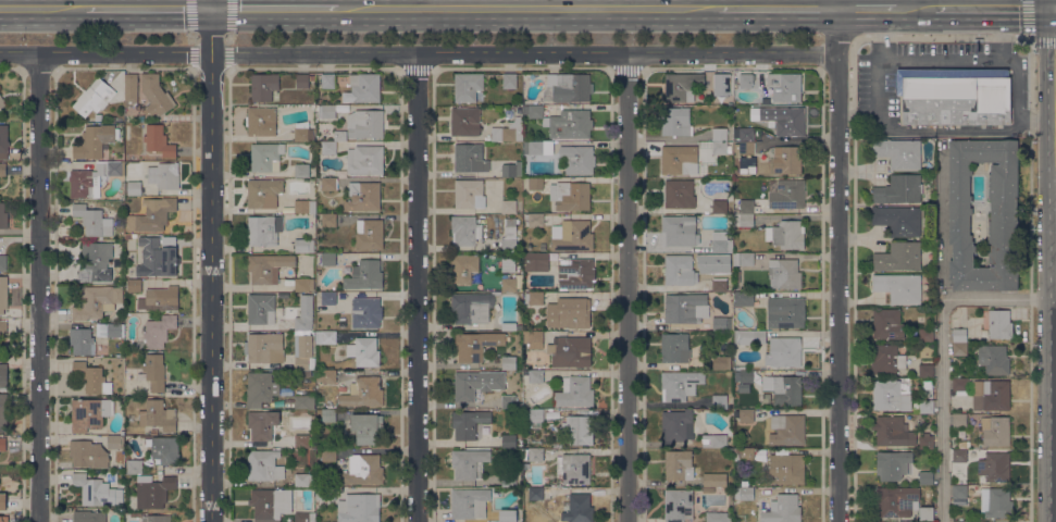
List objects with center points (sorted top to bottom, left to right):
road: (211, 3)
road: (902, 3)
road: (42, 7)
road: (148, 7)
traffic signals: (211, 8)
road: (274, 8)
road: (527, 8)
road: (777, 8)
road: (869, 8)
road: (917, 8)
road: (994, 9)
road: (194, 17)
road: (228, 18)
road: (997, 34)
road: (1029, 34)
road: (879, 36)
road: (194, 51)
road: (227, 52)
road: (418, 52)
road: (948, 60)
building: (311, 77)
building: (302, 80)
building: (327, 80)
building: (509, 80)
building: (719, 80)
building: (746, 80)
building: (263, 86)
building: (682, 86)
building: (784, 86)
building: (364, 87)
building: (467, 87)
building: (570, 87)
building: (131, 89)
building: (153, 94)
building: (955, 96)
building: (94, 97)
building: (2, 101)
building: (538, 101)
building: (325, 111)
building: (261, 121)
building: (464, 121)
building: (561, 121)
building: (675, 121)
building: (791, 122)
building: (364, 123)
road: (945, 129)
building: (302, 130)
building: (508, 132)
building: (719, 134)
building: (746, 134)
building: (95, 140)
building: (159, 140)
building: (3, 141)
building: (331, 144)
building: (536, 147)
building: (744, 147)
building: (720, 148)
building: (899, 152)
building: (265, 157)
building: (470, 158)
building: (577, 159)
building: (364, 160)
building: (676, 160)
building: (786, 160)
building: (2, 169)
building: (511, 169)
building: (132, 170)
building: (301, 171)
building: (163, 176)
building: (91, 178)
building: (328, 184)
building: (535, 184)
building: (133, 187)
building: (898, 189)
building: (263, 192)
building: (469, 194)
building: (679, 194)
building: (787, 194)
building: (363, 196)
building: (570, 196)
building: (332, 201)
building: (305, 207)
building: (508, 207)
building: (719, 207)
building: (746, 210)
building: (156, 213)
building: (3, 215)
building: (1004, 217)
building: (328, 220)
building: (535, 220)
building: (898, 220)
building: (94, 221)
building: (744, 223)
road: (942, 227)
building: (264, 229)
building: (464, 229)
building: (679, 231)
building: (369, 234)
building: (571, 235)
building: (786, 235)
building: (509, 236)
building: (128, 237)
building: (721, 243)
building: (303, 245)
building: (158, 257)
building: (898, 257)
building: (328, 259)
building: (743, 259)
road: (836, 260)
building: (535, 261)
building: (3, 262)
building: (96, 262)
road: (210, 264)
building: (268, 266)
building: (463, 269)
building: (680, 270)
building: (783, 273)
building: (576, 274)
building: (364, 275)
building: (718, 281)
building: (303, 284)
building: (510, 284)
building: (134, 285)
road: (39, 286)
road: (417, 287)
road: (624, 287)
building: (899, 287)
building: (3, 294)
building: (328, 298)
building: (534, 298)
building: (160, 299)
building: (744, 299)
building: (97, 301)
building: (260, 308)
building: (471, 308)
building: (685, 308)
building: (365, 312)
building: (785, 312)
building: (305, 313)
building: (569, 313)
building: (722, 324)
building: (887, 324)
building: (999, 324)
building: (3, 326)
building: (509, 326)
building: (114, 331)
building: (158, 332)
building: (925, 335)
building: (959, 335)
building: (325, 337)
building: (749, 337)
building: (533, 339)
building: (80, 340)
building: (475, 345)
building: (264, 347)
building: (675, 347)
building: (959, 348)
building: (303, 351)
building: (363, 351)
building: (570, 351)
building: (783, 351)
road: (943, 353)
building: (886, 360)
building: (996, 360)
building: (508, 362)
building: (721, 362)
building: (925, 371)
building: (154, 372)
building: (303, 374)
building: (3, 375)
building: (330, 376)
building: (535, 376)
building: (745, 376)
building: (92, 378)
building: (680, 384)
building: (959, 384)
building: (467, 387)
building: (260, 388)
building: (784, 389)
building: (364, 391)
building: (574, 391)
building: (891, 395)
building: (995, 395)
building: (305, 401)
building: (508, 401)
building: (719, 401)
building: (925, 407)
building: (3, 412)
building: (89, 413)
building: (159, 415)
building: (328, 415)
building: (745, 415)
building: (131, 418)
building: (535, 419)
building: (959, 420)
building: (468, 423)
building: (262, 425)
building: (678, 426)
building: (368, 428)
building: (787, 430)
building: (577, 431)
building: (995, 431)
building: (893, 432)
building: (301, 440)
building: (508, 440)
building: (713, 440)
building: (115, 442)
building: (925, 442)
building: (2, 444)
building: (964, 444)
building: (165, 449)
building: (88, 453)
building: (328, 455)
building: (535, 455)
building: (744, 455)
building: (959, 456)
building: (468, 462)
building: (893, 464)
building: (263, 465)
building: (678, 465)
building: (134, 467)
building: (994, 467)
building: (573, 468)
building: (786, 469)
building: (362, 470)
building: (925, 477)
building: (305, 480)
building: (509, 480)
building: (715, 480)
building: (708, 489)
building: (97, 490)
building: (153, 490)
building: (743, 492)
building: (959, 492)
building: (325, 494)
building: (535, 494)
building: (896, 500)
building: (3, 501)
building: (996, 502)
building: (270, 504)
building: (470, 504)
building: (678, 505)
building: (358, 508)
building: (576, 508)
building: (782, 509)
building: (925, 513)
building: (507, 515)
building: (89, 517)
building: (305, 517)
building: (718, 517)
building: (156, 518)
building: (3, 519)
building: (959, 521)

